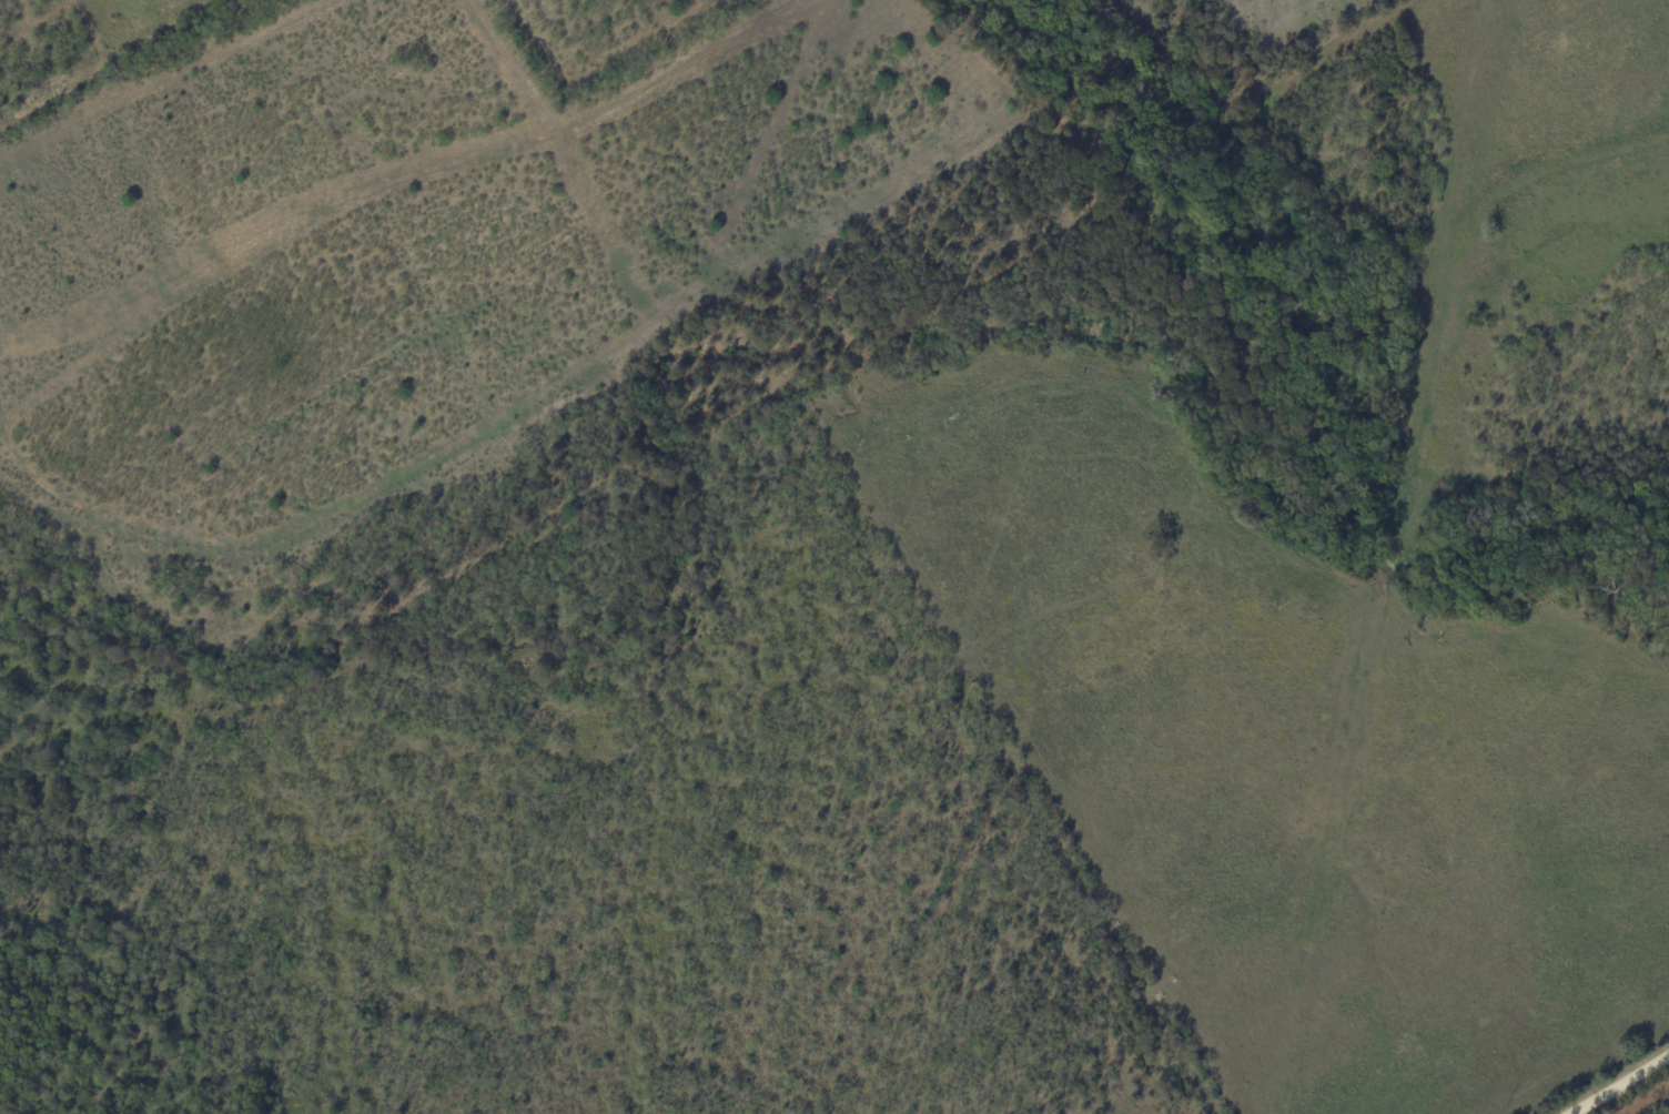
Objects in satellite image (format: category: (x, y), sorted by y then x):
road: (1621, 1085)

